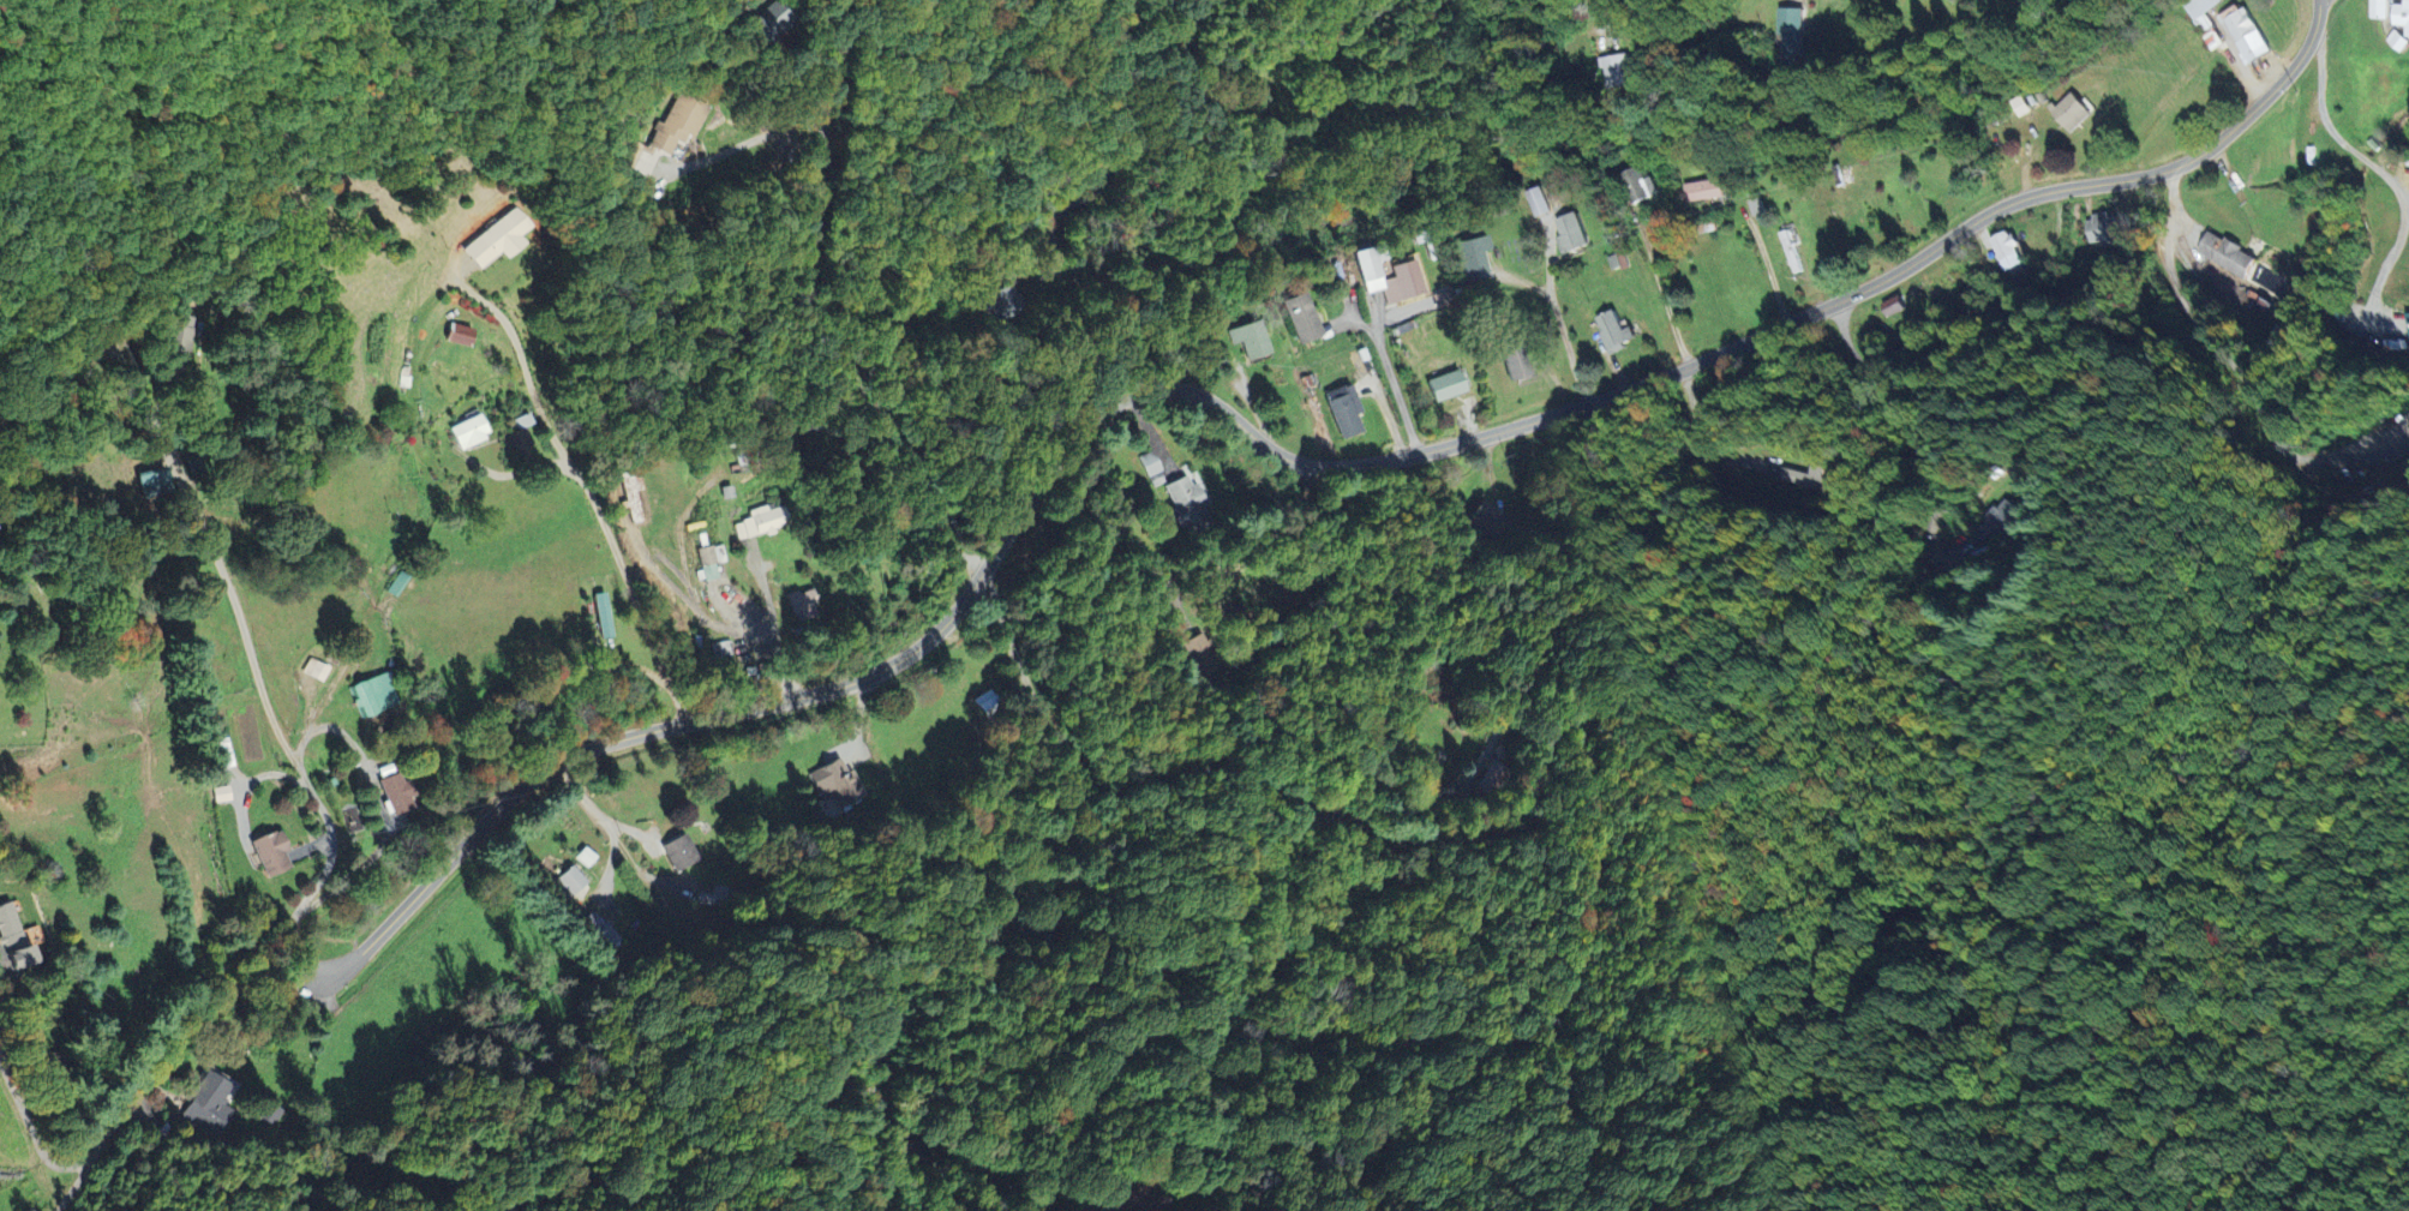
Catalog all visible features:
road: (1616, 2)
building: (2374, 10)
building: (2399, 17)
building: (2200, 19)
building: (768, 24)
road: (510, 29)
building: (748, 32)
building: (2243, 35)
building: (1787, 37)
building: (2393, 41)
building: (1611, 70)
building: (2068, 112)
road: (917, 118)
building: (666, 133)
road: (753, 139)
road: (2381, 173)
building: (1635, 185)
building: (1700, 190)
building: (1534, 202)
building: (2102, 230)
building: (1566, 233)
building: (496, 240)
building: (1786, 248)
building: (2002, 251)
building: (2221, 254)
building: (1473, 256)
building: (1370, 265)
building: (1404, 280)
road: (1656, 287)
building: (1002, 301)
building: (1888, 306)
road: (809, 312)
building: (1299, 317)
building: (2405, 331)
building: (1607, 332)
building: (459, 334)
building: (1248, 338)
road: (1563, 347)
road: (83, 352)
building: (1514, 360)
road: (526, 364)
road: (1394, 383)
building: (1445, 385)
building: (1344, 409)
road: (1908, 422)
building: (467, 431)
building: (521, 432)
road: (1274, 448)
building: (1804, 478)
building: (151, 481)
building: (631, 494)
building: (1186, 504)
building: (760, 521)
building: (1486, 521)
building: (1991, 522)
road: (1251, 553)
building: (709, 562)
road: (635, 590)
road: (769, 600)
building: (802, 604)
road: (749, 628)
building: (314, 670)
building: (372, 694)
road: (275, 721)
road: (380, 799)
road: (1002, 805)
building: (269, 850)
building: (676, 851)
building: (571, 879)
building: (607, 936)
building: (10, 939)
road: (1452, 1008)
road: (140, 1096)
building: (208, 1101)
road: (80, 1188)

